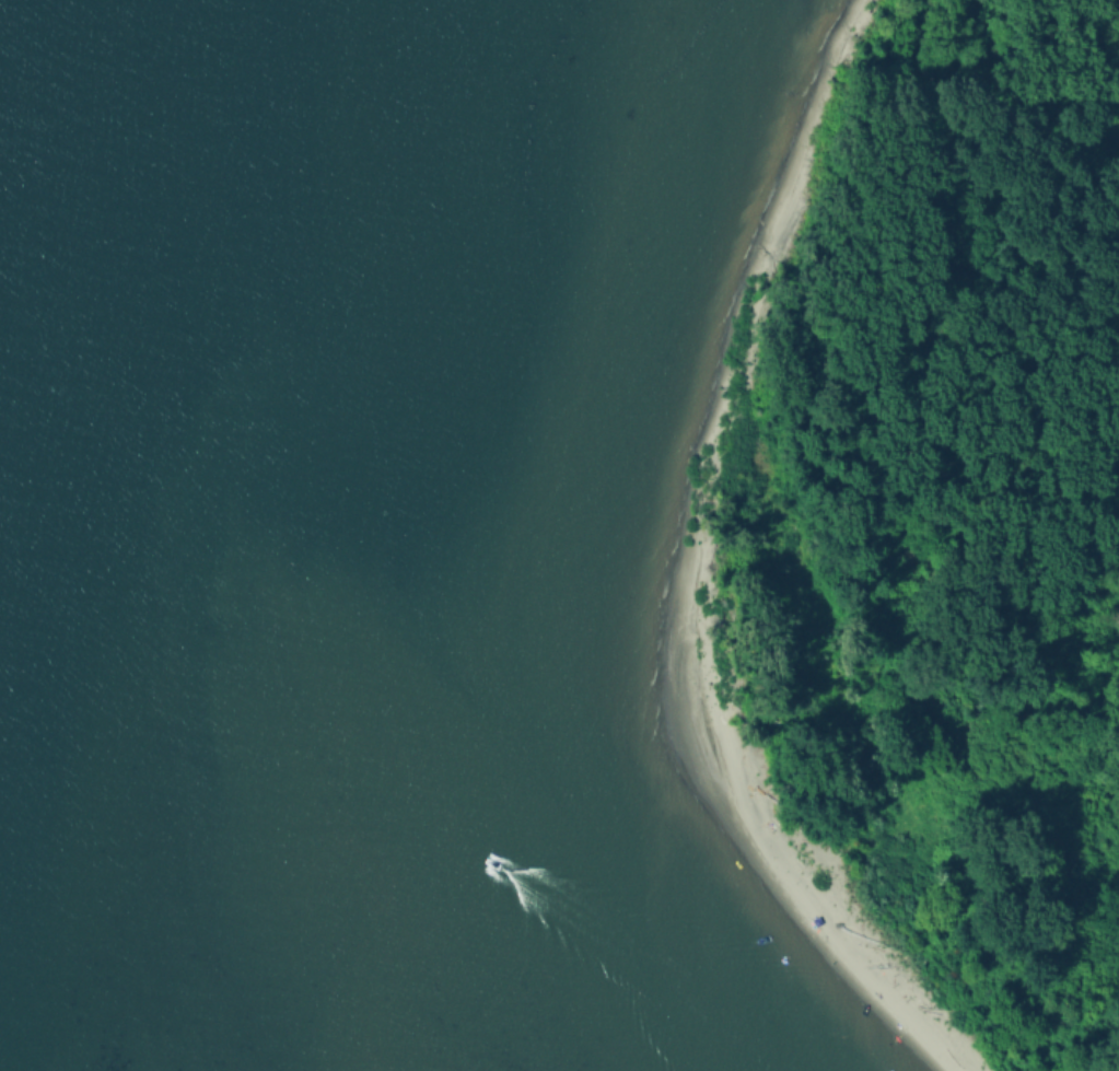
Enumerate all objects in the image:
river: (308, 834)

